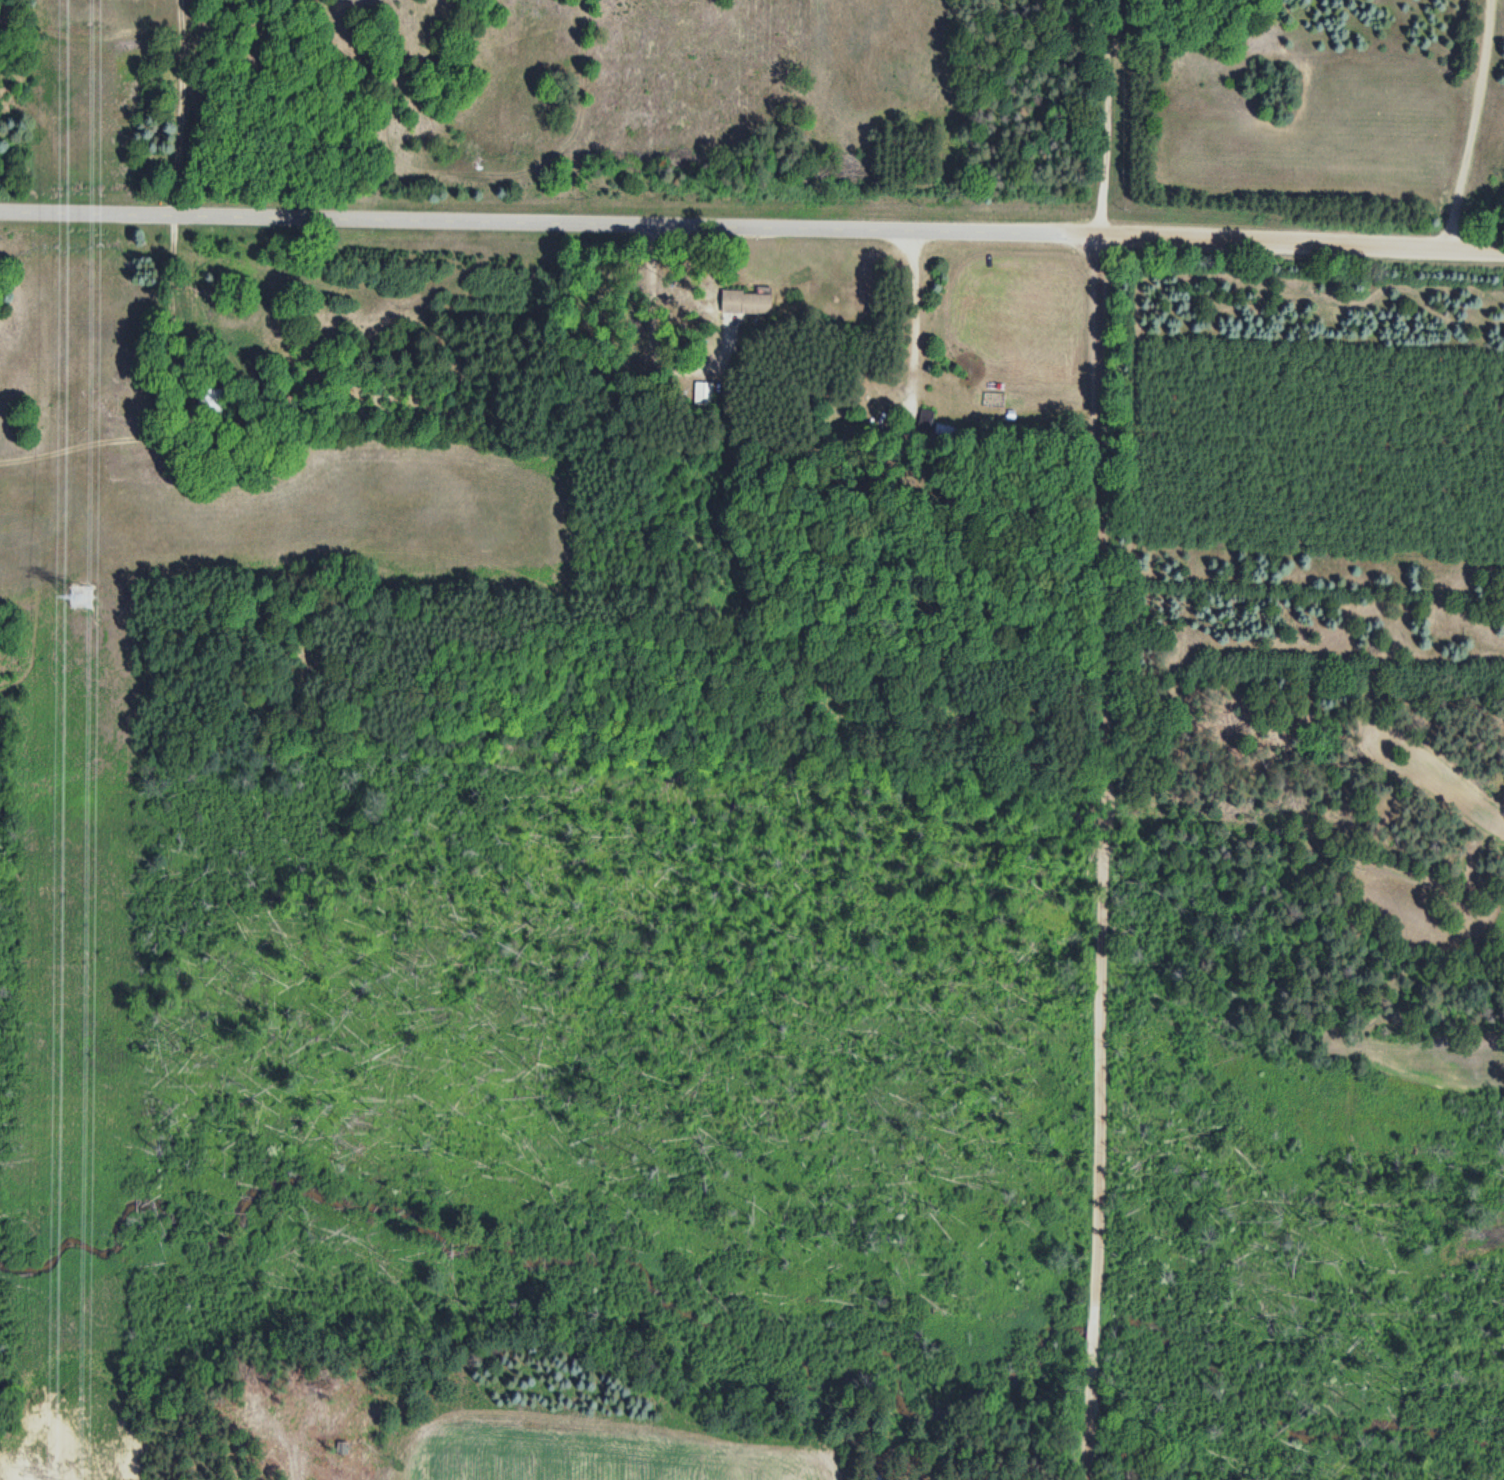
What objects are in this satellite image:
road: (1456, 115)
road: (531, 208)
road: (1283, 224)
building: (743, 302)
building: (211, 305)
building: (705, 392)
road: (0, 418)
power tower: (85, 594)
road: (1100, 739)
road: (843, 1467)

